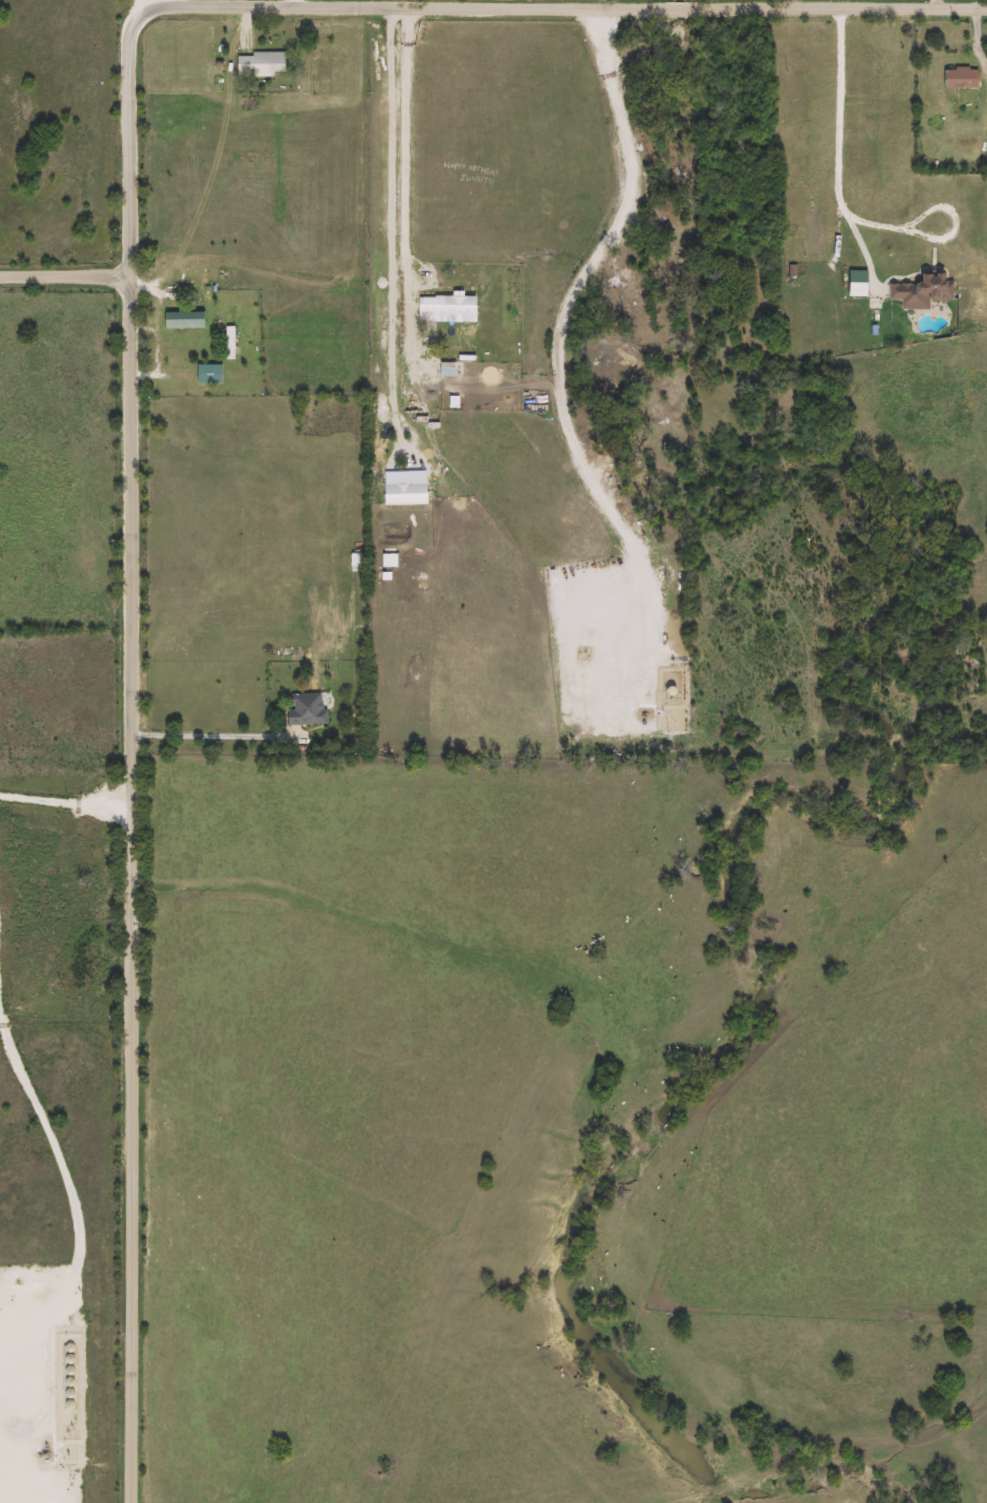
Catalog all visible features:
road: (298, 2)
road: (412, 4)
building: (263, 64)
building: (963, 78)
building: (883, 109)
road: (845, 202)
road: (400, 217)
building: (816, 233)
road: (588, 273)
building: (924, 290)
building: (449, 305)
building: (186, 319)
building: (231, 342)
building: (211, 373)
building: (407, 494)
building: (308, 709)
road: (210, 729)
road: (68, 803)
road: (137, 829)
road: (72, 1198)

